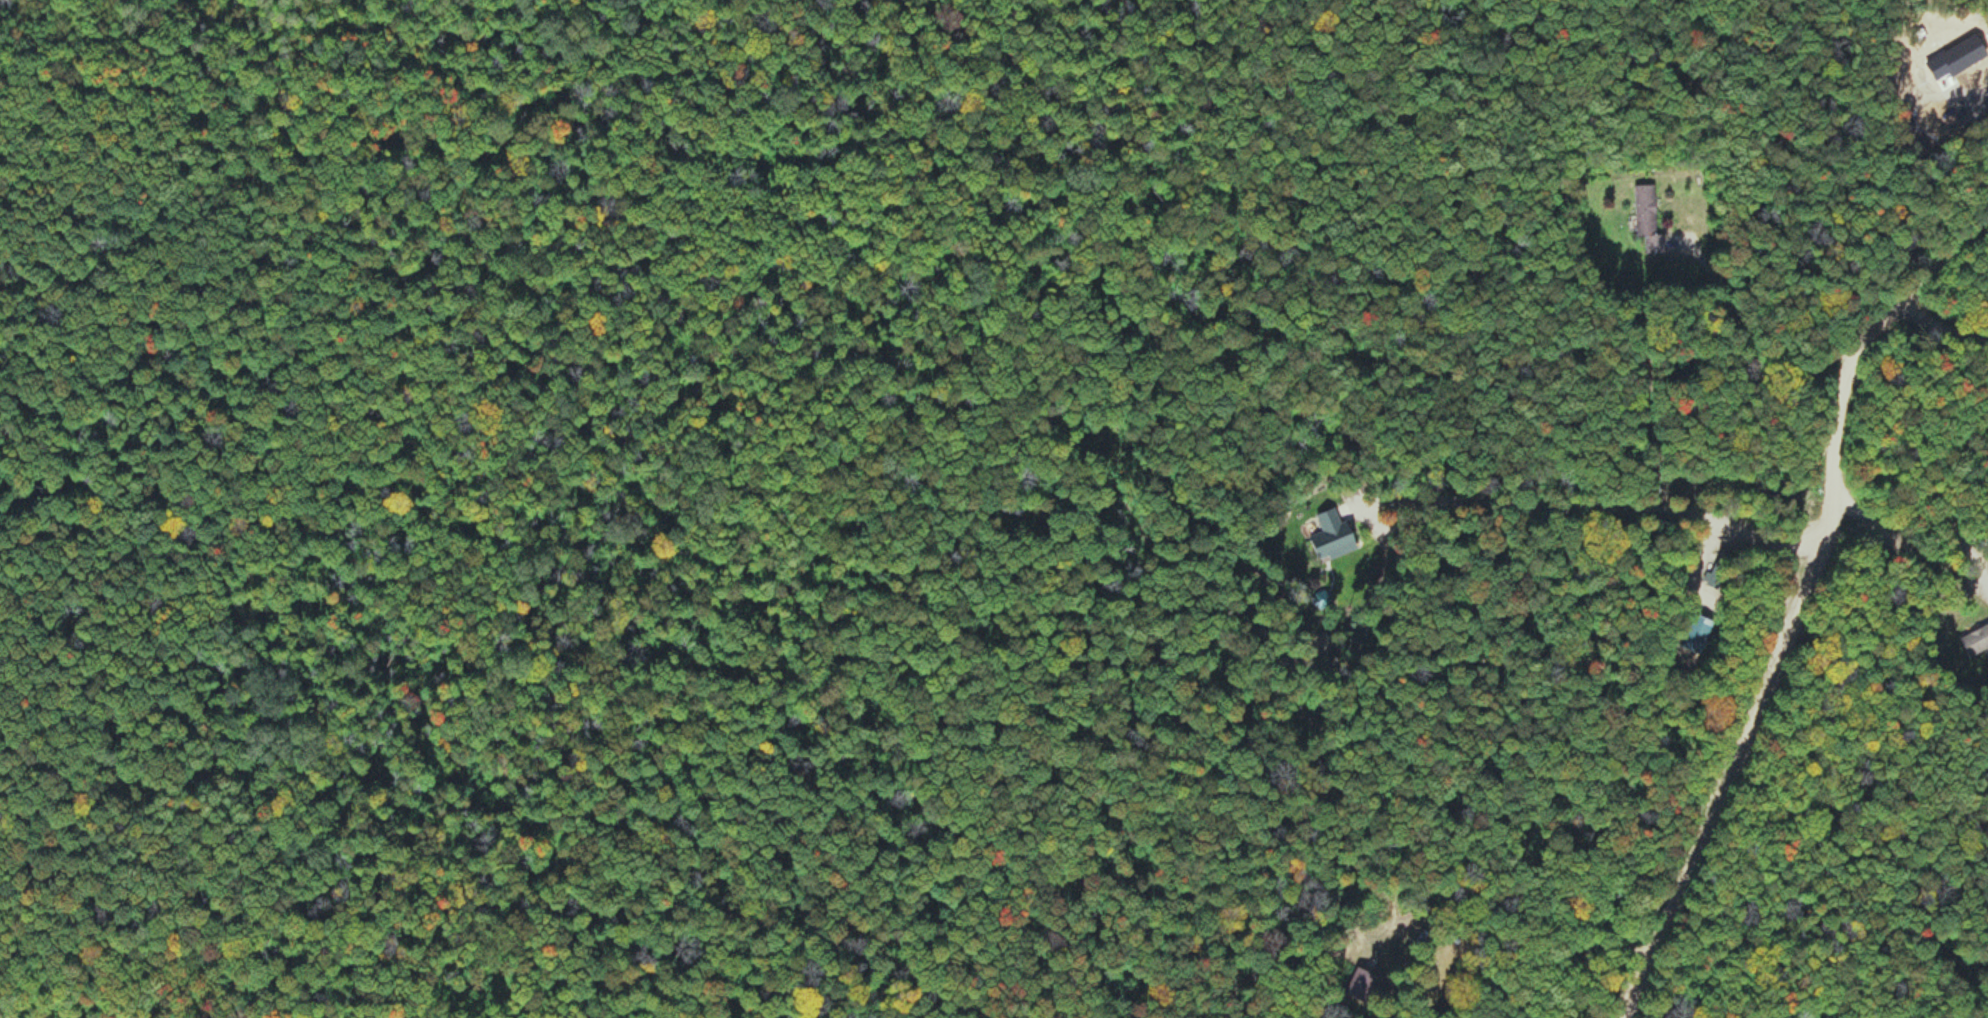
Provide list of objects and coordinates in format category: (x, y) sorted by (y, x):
building: (1646, 219)
road: (1975, 223)
building: (1331, 536)
building: (1696, 634)
building: (1975, 637)
building: (1422, 938)
building: (1360, 985)

